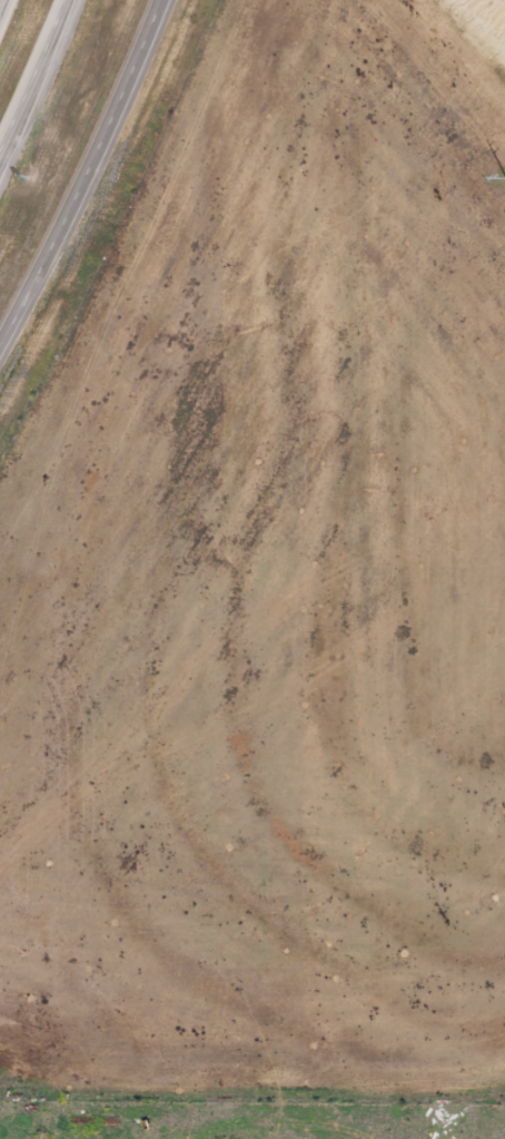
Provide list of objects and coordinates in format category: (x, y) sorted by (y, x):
road: (0, 1)
road: (32, 70)
road: (81, 170)

